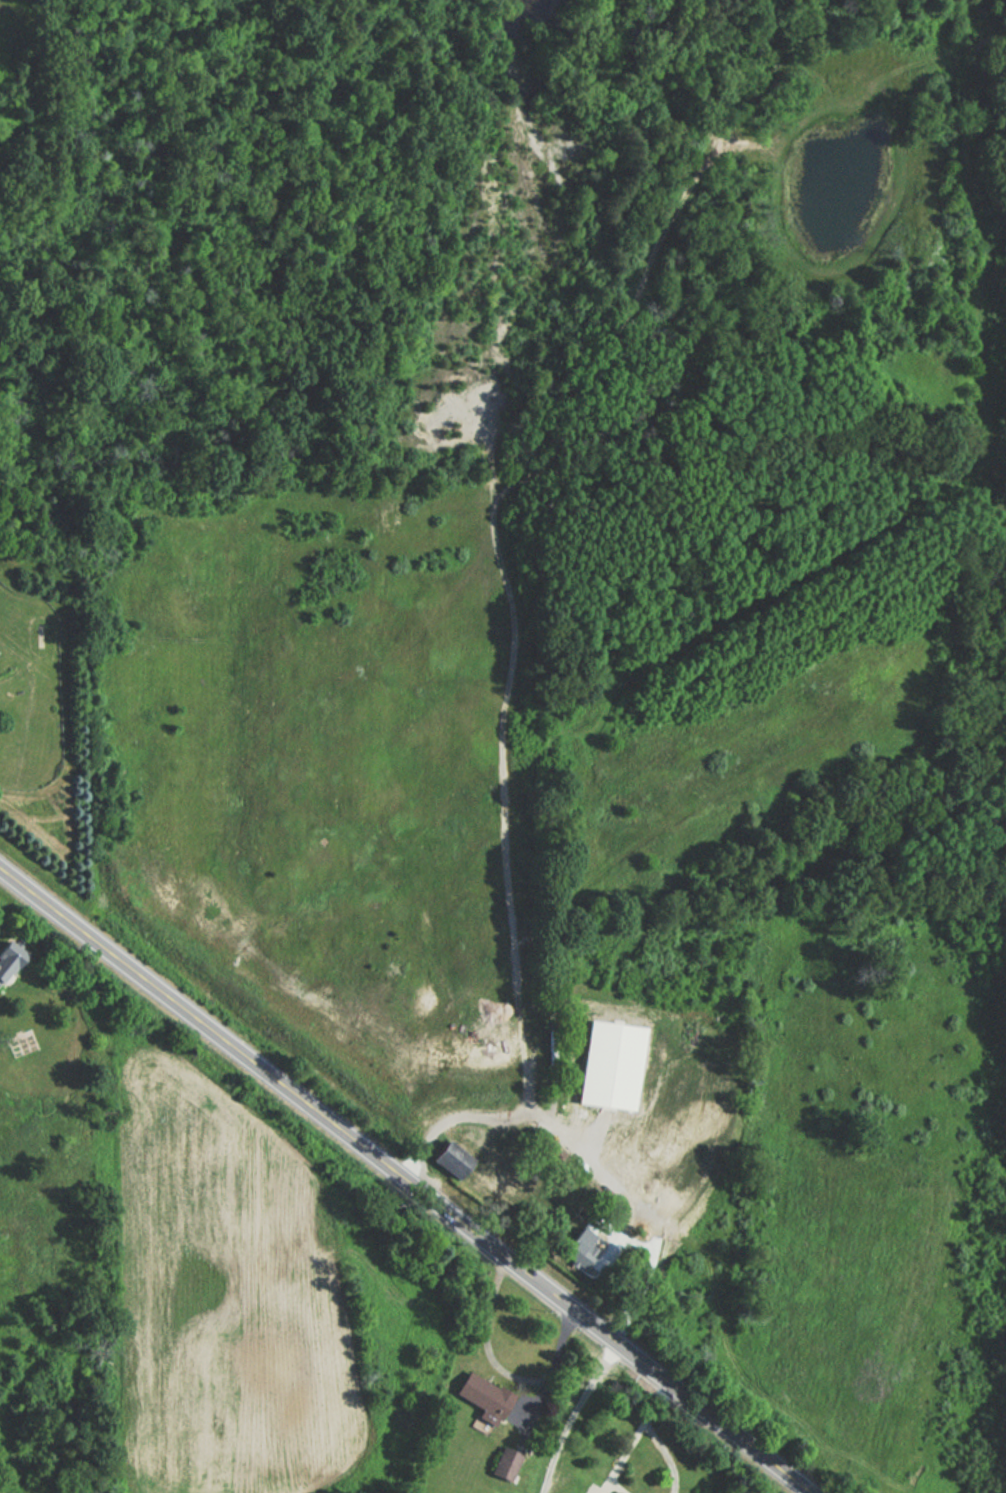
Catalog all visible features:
building: (8, 959)
building: (607, 1065)
building: (448, 1160)
road: (404, 1179)
road: (656, 1278)
crop: (257, 1280)
road: (486, 1341)
road: (554, 1366)
building: (481, 1397)
road: (570, 1413)
road: (634, 1438)
road: (669, 1452)
building: (503, 1464)
road: (621, 1484)

